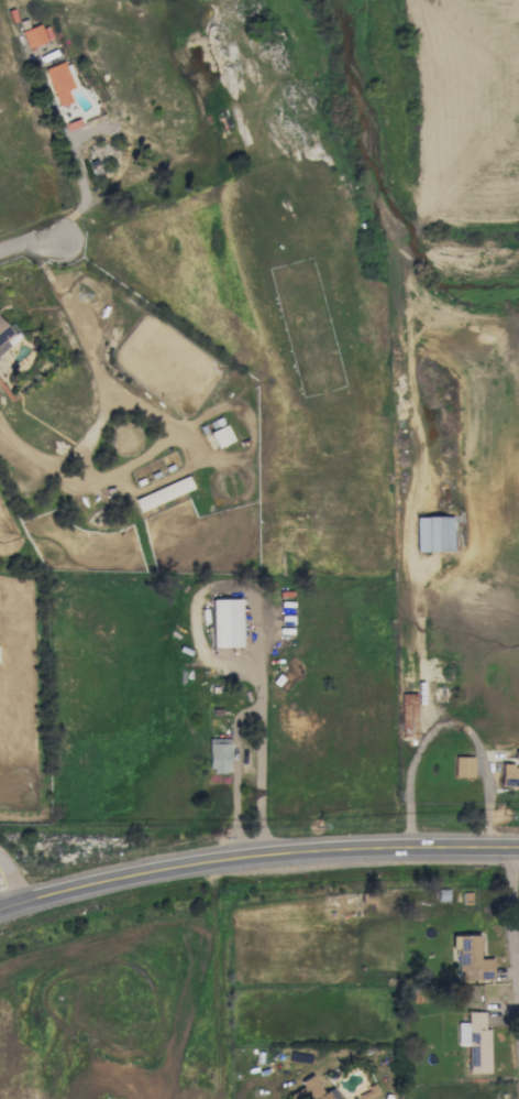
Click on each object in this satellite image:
building: (33, 35)
building: (57, 83)
road: (79, 191)
road: (31, 246)
building: (4, 336)
road: (156, 416)
building: (218, 436)
building: (162, 493)
building: (432, 533)
building: (224, 622)
road: (424, 650)
building: (407, 716)
road: (234, 721)
road: (450, 722)
building: (218, 754)
building: (462, 766)
building: (510, 772)
road: (259, 782)
road: (263, 857)
road: (7, 885)
road: (509, 906)
road: (7, 907)
building: (472, 960)
building: (475, 1042)
building: (311, 1090)

